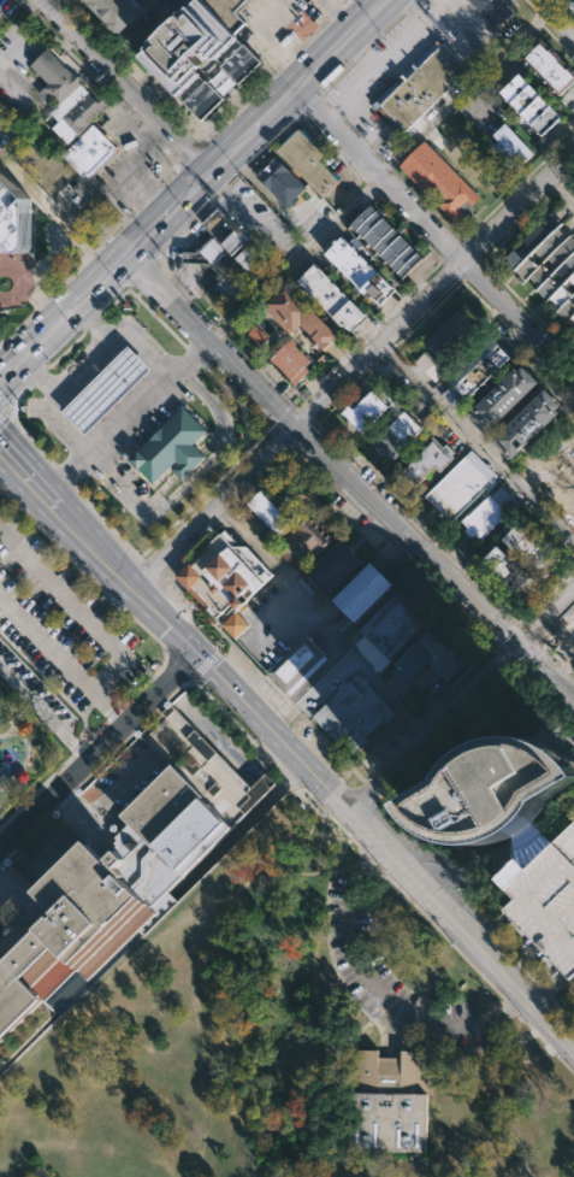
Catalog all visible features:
road: (150, 2)
road: (345, 4)
building: (570, 4)
road: (409, 5)
road: (566, 8)
building: (117, 10)
building: (229, 11)
building: (491, 11)
road: (335, 13)
road: (338, 16)
road: (557, 16)
road: (82, 20)
road: (386, 28)
road: (545, 28)
road: (135, 30)
road: (312, 36)
road: (267, 39)
road: (103, 45)
road: (362, 53)
road: (362, 53)
road: (112, 54)
building: (170, 59)
road: (290, 60)
road: (81, 63)
road: (381, 63)
building: (550, 67)
road: (126, 70)
road: (339, 75)
building: (55, 77)
road: (143, 82)
road: (126, 86)
building: (421, 86)
road: (146, 88)
road: (150, 89)
road: (326, 100)
building: (70, 101)
road: (310, 104)
building: (531, 105)
road: (243, 106)
road: (273, 111)
road: (337, 113)
building: (81, 117)
road: (178, 119)
road: (309, 125)
road: (353, 129)
road: (573, 129)
road: (564, 137)
road: (158, 140)
building: (511, 145)
road: (369, 146)
building: (88, 149)
road: (190, 155)
road: (380, 157)
road: (177, 159)
building: (308, 160)
road: (389, 165)
building: (43, 166)
road: (245, 170)
road: (137, 175)
road: (380, 175)
road: (567, 175)
building: (280, 181)
road: (165, 182)
building: (440, 182)
road: (556, 186)
road: (226, 188)
road: (561, 189)
road: (374, 190)
building: (77, 200)
road: (273, 202)
road: (144, 204)
road: (57, 211)
road: (201, 211)
building: (13, 212)
parking lot: (307, 214)
road: (252, 218)
parking lot: (260, 223)
road: (188, 224)
road: (475, 226)
road: (118, 229)
building: (223, 229)
road: (433, 233)
road: (174, 237)
road: (143, 241)
road: (462, 241)
building: (387, 243)
road: (162, 251)
road: (472, 252)
building: (211, 255)
road: (89, 257)
building: (249, 257)
road: (52, 258)
road: (443, 260)
road: (481, 260)
road: (160, 261)
building: (549, 263)
road: (114, 269)
road: (452, 270)
building: (359, 271)
road: (492, 272)
road: (144, 273)
road: (461, 279)
road: (22, 284)
building: (230, 284)
road: (178, 286)
road: (432, 287)
road: (91, 293)
building: (332, 299)
road: (117, 301)
road: (485, 304)
road: (41, 305)
road: (214, 308)
road: (75, 310)
road: (427, 314)
road: (156, 318)
building: (301, 318)
road: (96, 320)
road: (96, 322)
road: (231, 326)
road: (369, 331)
building: (449, 335)
road: (36, 342)
road: (211, 342)
road: (138, 346)
road: (67, 349)
road: (387, 352)
road: (195, 357)
building: (291, 361)
road: (542, 361)
building: (430, 365)
parking lot: (430, 365)
building: (479, 369)
road: (2, 371)
road: (2, 376)
road: (37, 376)
road: (66, 378)
building: (107, 388)
gas station: (107, 388)
road: (350, 390)
road: (144, 395)
road: (18, 396)
building: (395, 399)
building: (455, 399)
parking lot: (455, 399)
building: (504, 400)
road: (238, 401)
building: (363, 410)
road: (4, 411)
road: (308, 412)
road: (60, 423)
building: (528, 425)
road: (29, 436)
building: (397, 436)
road: (303, 437)
road: (213, 439)
road: (475, 439)
road: (279, 441)
building: (171, 447)
road: (218, 452)
building: (566, 454)
building: (427, 459)
road: (189, 463)
road: (23, 473)
road: (64, 476)
road: (65, 478)
road: (108, 481)
road: (256, 484)
building: (462, 484)
road: (158, 494)
road: (200, 498)
building: (273, 507)
road: (213, 508)
road: (136, 510)
road: (416, 512)
building: (487, 512)
road: (224, 514)
road: (108, 524)
road: (407, 535)
building: (303, 542)
building: (528, 545)
road: (379, 549)
building: (336, 564)
road: (81, 566)
building: (504, 566)
road: (148, 570)
road: (160, 576)
building: (225, 578)
road: (285, 579)
building: (362, 589)
road: (548, 594)
road: (78, 611)
road: (205, 611)
road: (516, 617)
road: (546, 617)
building: (389, 628)
road: (529, 629)
parking lot: (57, 634)
road: (505, 635)
road: (528, 652)
traffic signals: (195, 654)
road: (555, 654)
road: (212, 657)
road: (61, 658)
road: (351, 658)
building: (427, 658)
road: (177, 663)
building: (297, 663)
road: (546, 671)
road: (463, 673)
road: (149, 678)
road: (191, 679)
road: (545, 693)
road: (431, 706)
road: (297, 711)
road: (114, 712)
building: (351, 712)
road: (43, 713)
road: (226, 714)
road: (421, 714)
road: (191, 717)
road: (410, 717)
road: (433, 725)
road: (96, 731)
road: (171, 737)
road: (125, 740)
road: (221, 740)
road: (377, 743)
road: (78, 748)
road: (96, 749)
road: (333, 749)
road: (227, 754)
road: (266, 757)
road: (264, 760)
road: (217, 764)
building: (203, 765)
road: (209, 769)
road: (279, 769)
road: (312, 770)
road: (64, 781)
road: (292, 782)
road: (123, 788)
building: (492, 788)
road: (35, 789)
road: (369, 789)
road: (66, 798)
road: (66, 800)
road: (59, 811)
road: (94, 812)
road: (82, 814)
road: (374, 814)
road: (65, 817)
road: (330, 819)
road: (95, 830)
road: (239, 831)
road: (81, 832)
road: (29, 834)
road: (100, 835)
road: (43, 836)
road: (113, 840)
building: (526, 842)
road: (1, 858)
road: (368, 859)
road: (1, 863)
road: (64, 869)
road: (71, 877)
road: (20, 879)
road: (75, 879)
road: (444, 879)
building: (108, 890)
road: (20, 891)
building: (545, 896)
parking garage: (545, 896)
road: (5, 911)
road: (32, 914)
road: (5, 924)
road: (25, 929)
road: (13, 932)
road: (439, 932)
road: (10, 937)
road: (326, 944)
road: (520, 957)
road: (517, 963)
parking lot: (391, 979)
road: (532, 979)
road: (363, 989)
road: (380, 989)
road: (551, 990)
road: (546, 995)
road: (353, 997)
road: (372, 999)
road: (378, 1006)
road: (360, 1007)
road: (509, 1007)
road: (562, 1010)
road: (368, 1016)
road: (390, 1026)
park: (291, 1042)
road: (548, 1042)
road: (362, 1044)
road: (458, 1049)
road: (332, 1088)
building: (386, 1100)

